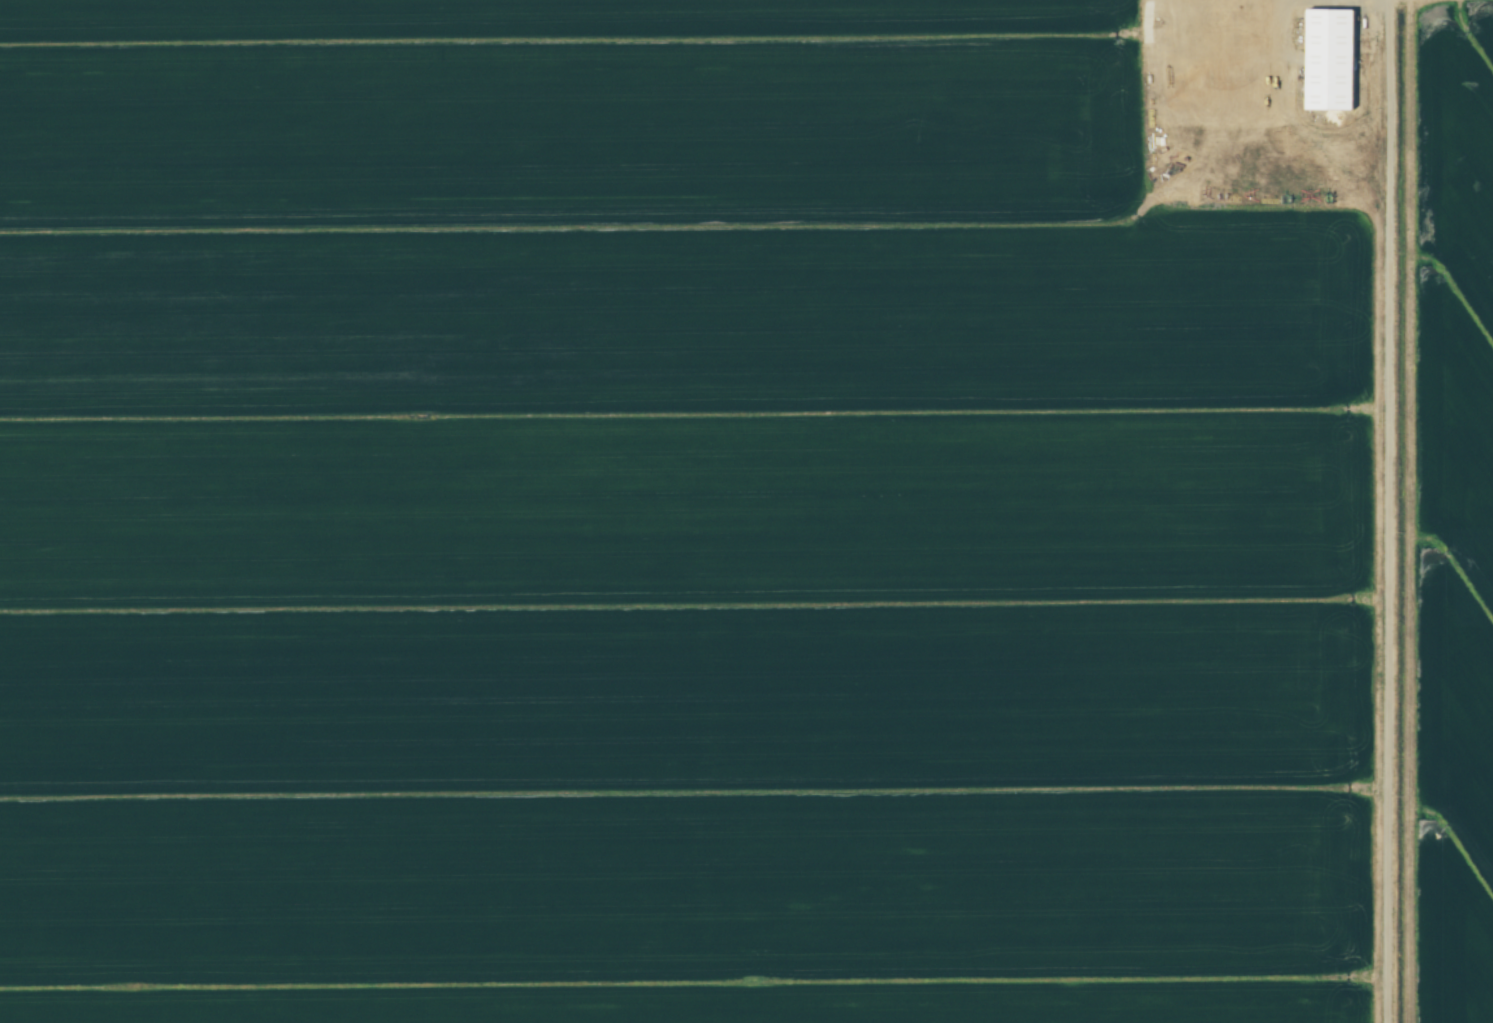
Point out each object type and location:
building: (1330, 60)

